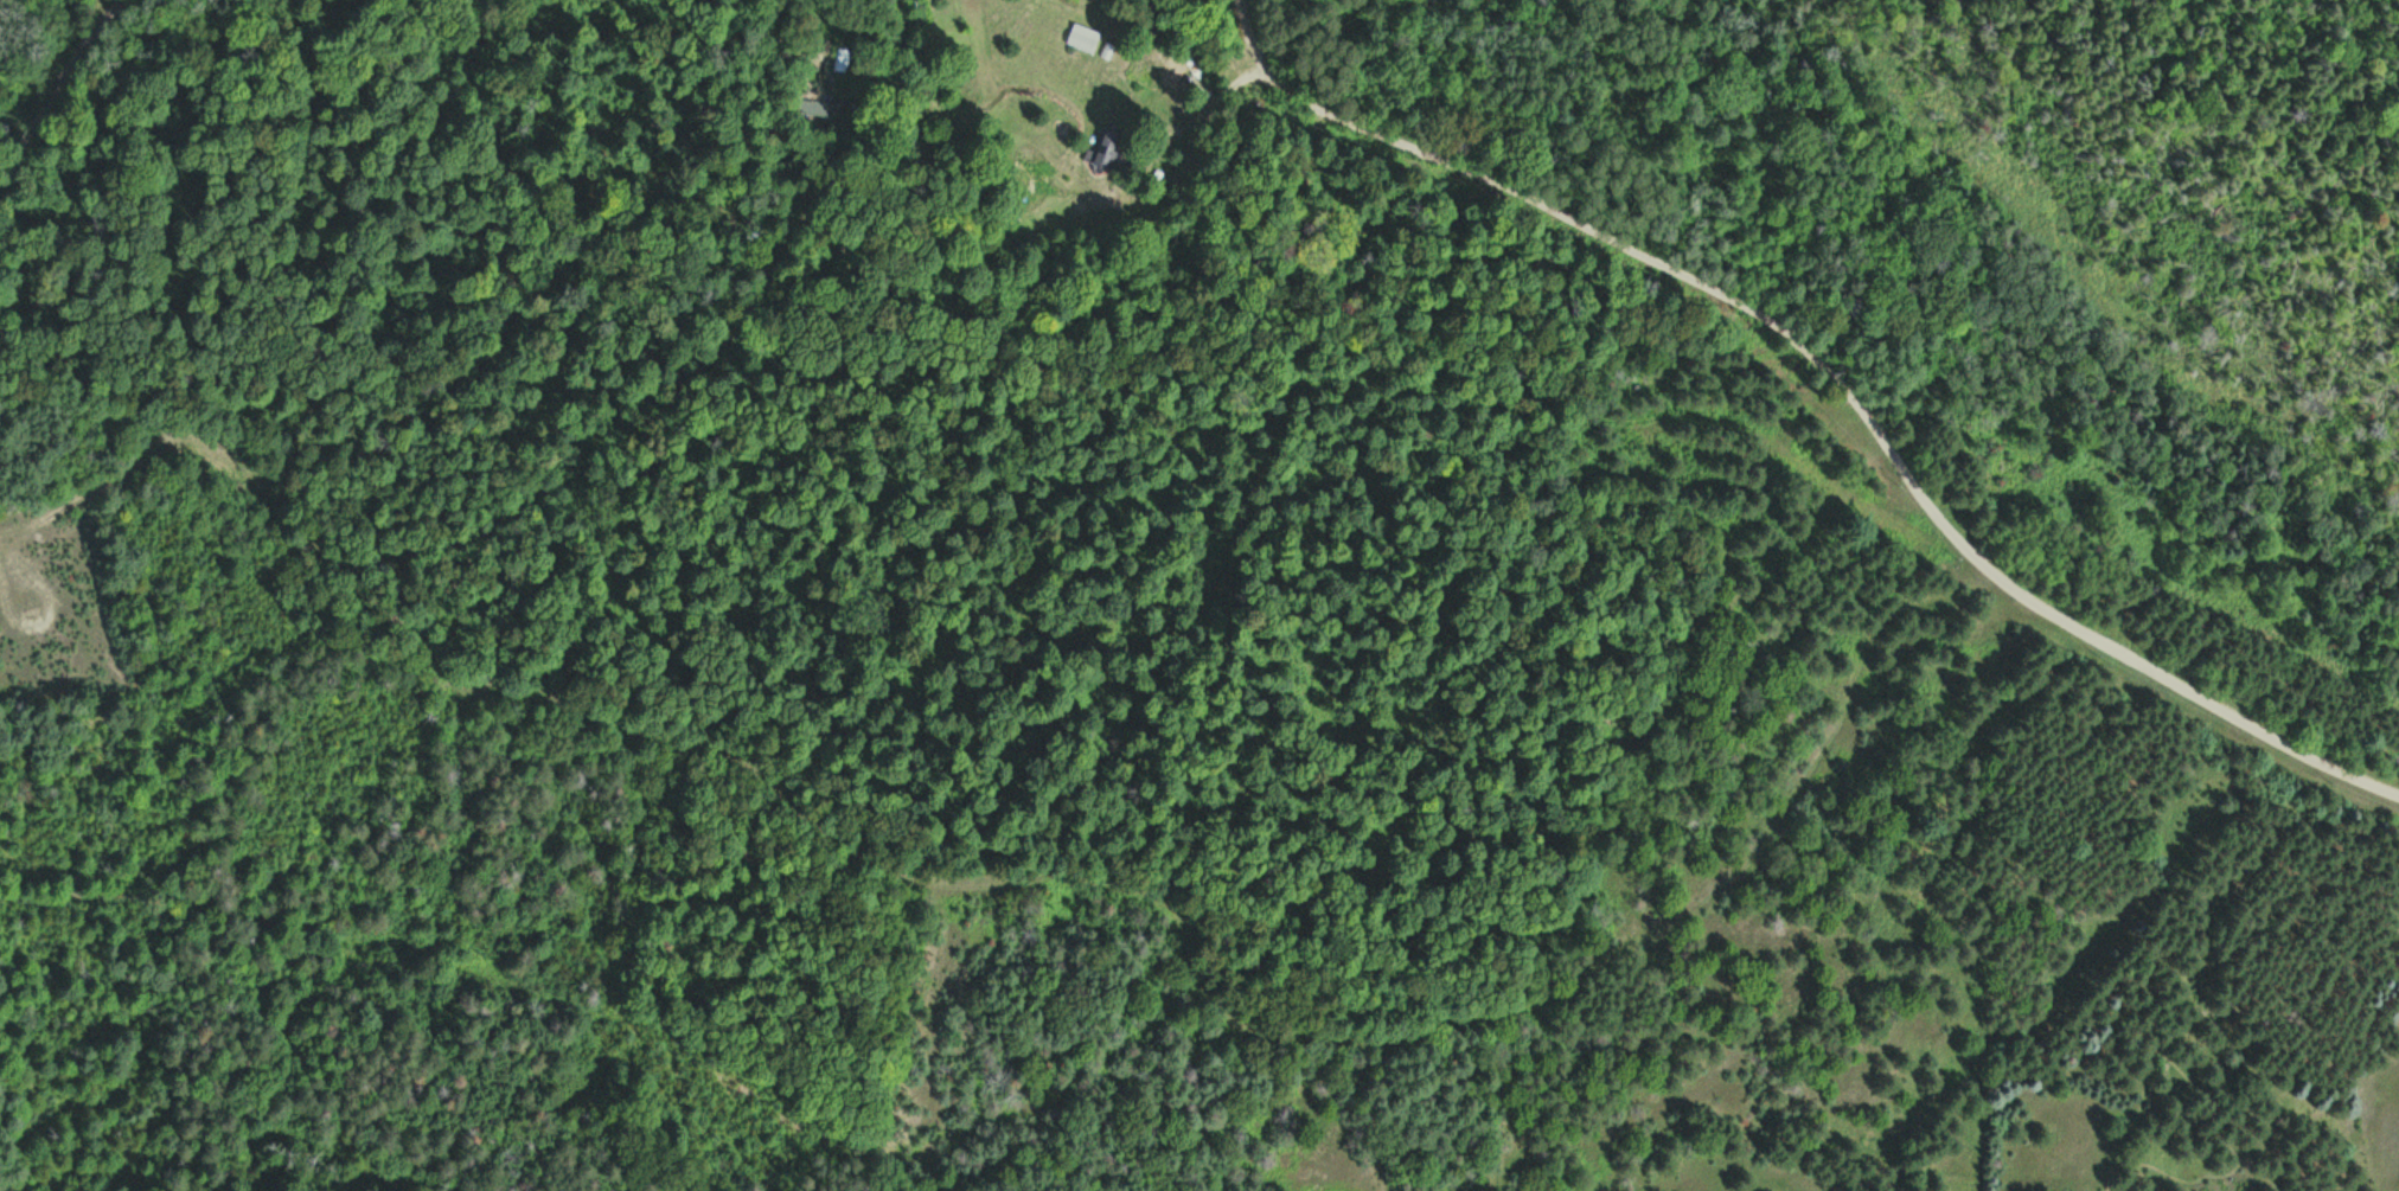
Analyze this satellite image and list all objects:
road: (58, 85)
building: (818, 108)
building: (1105, 151)
road: (1834, 370)

